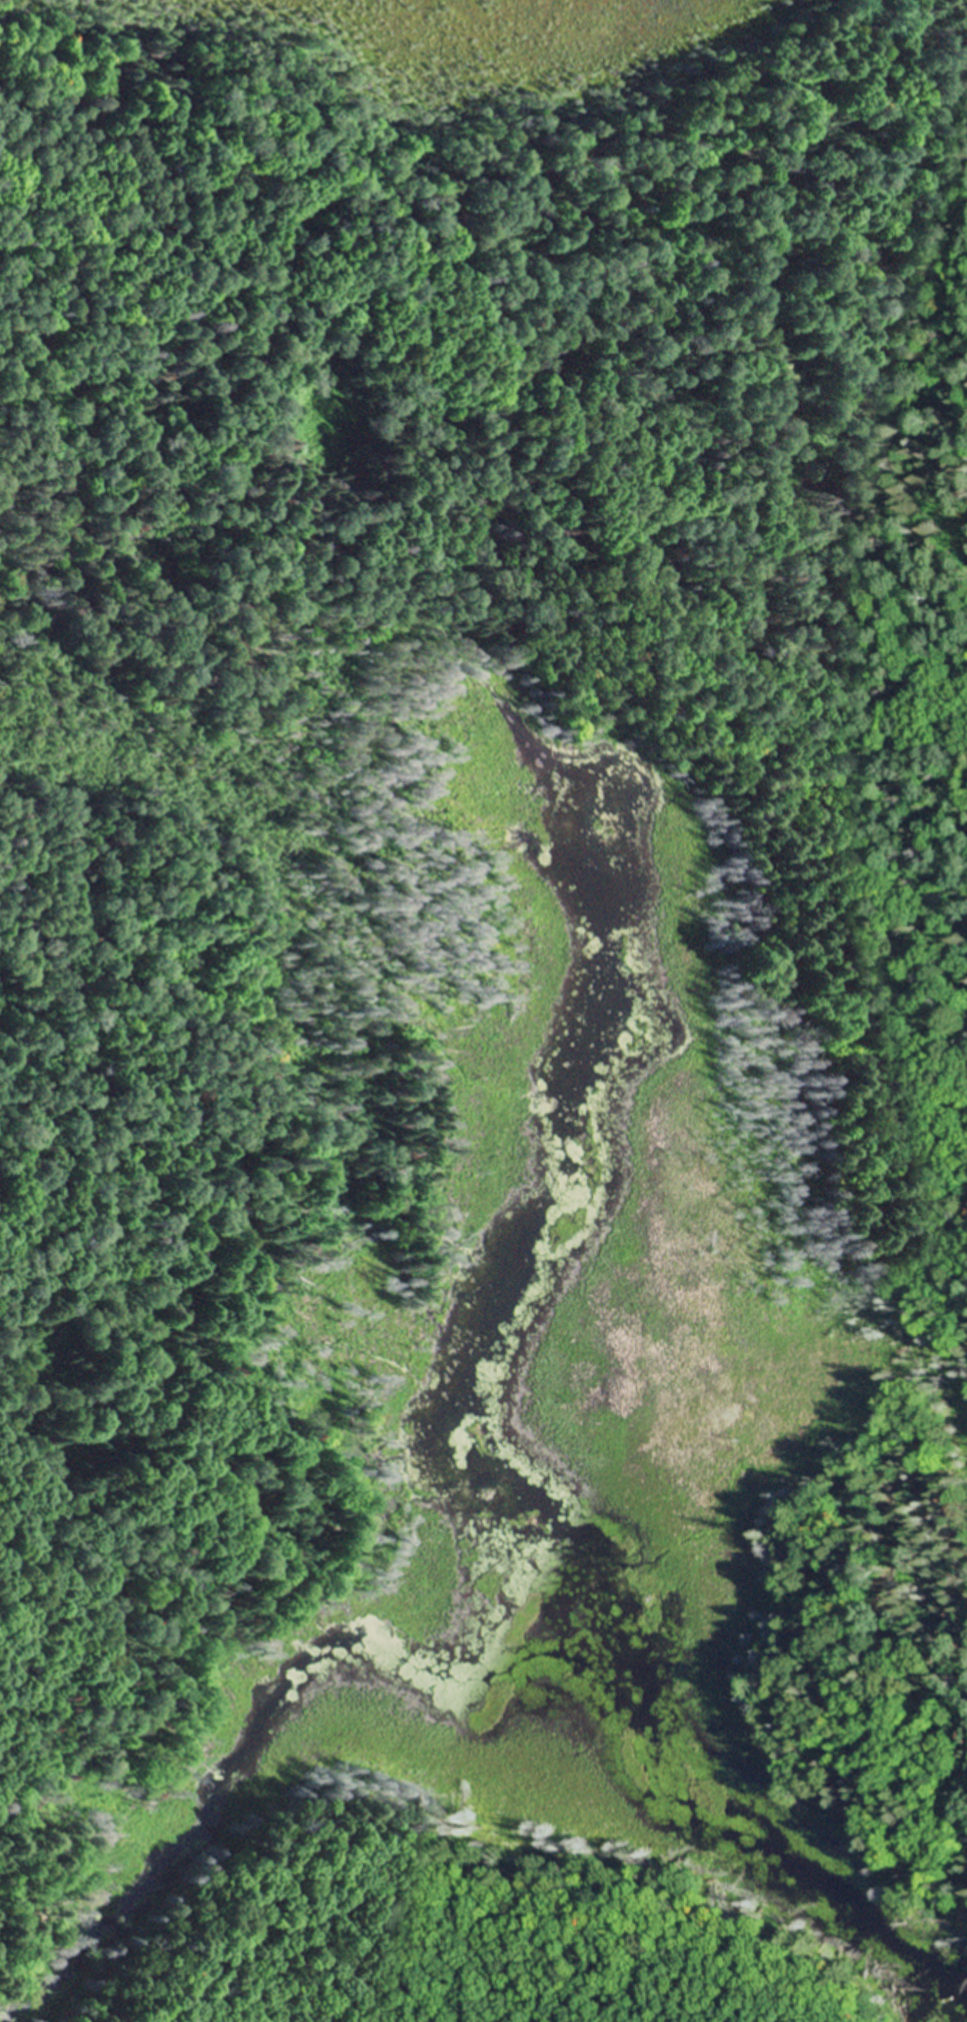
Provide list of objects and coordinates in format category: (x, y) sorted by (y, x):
river: (773, 1881)

